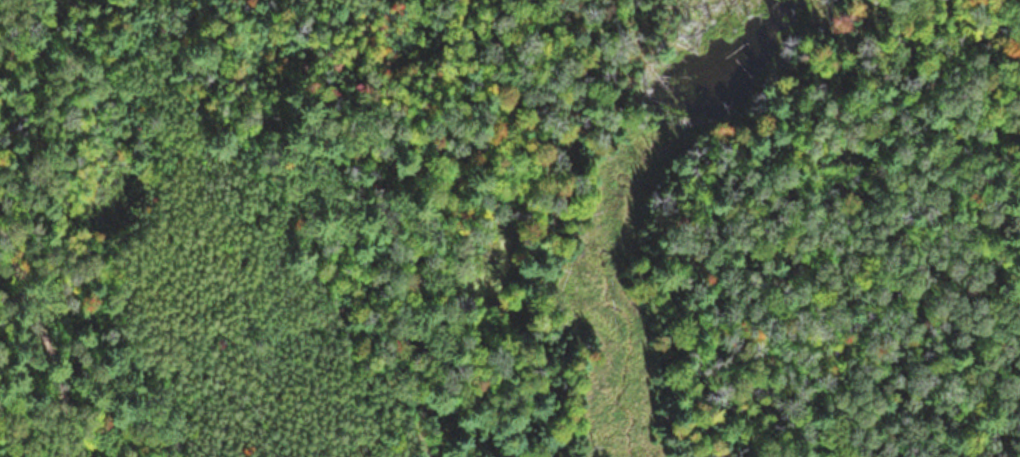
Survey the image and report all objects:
road: (37, 345)

